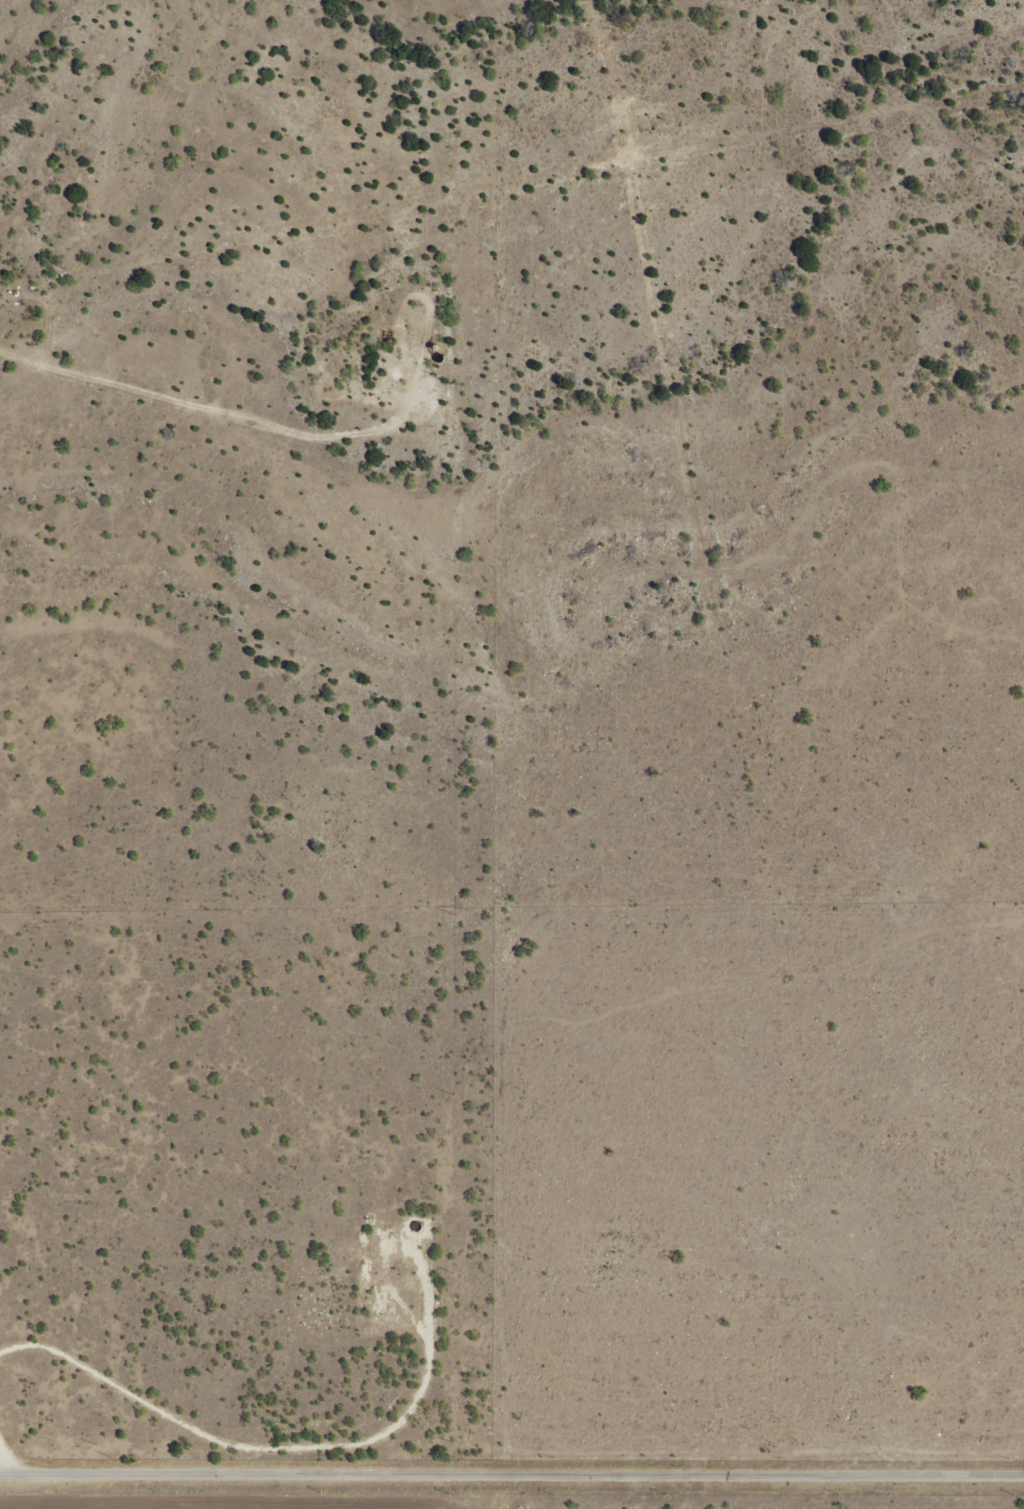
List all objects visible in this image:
road: (15, 304)
road: (512, 1489)
road: (378, 1499)

